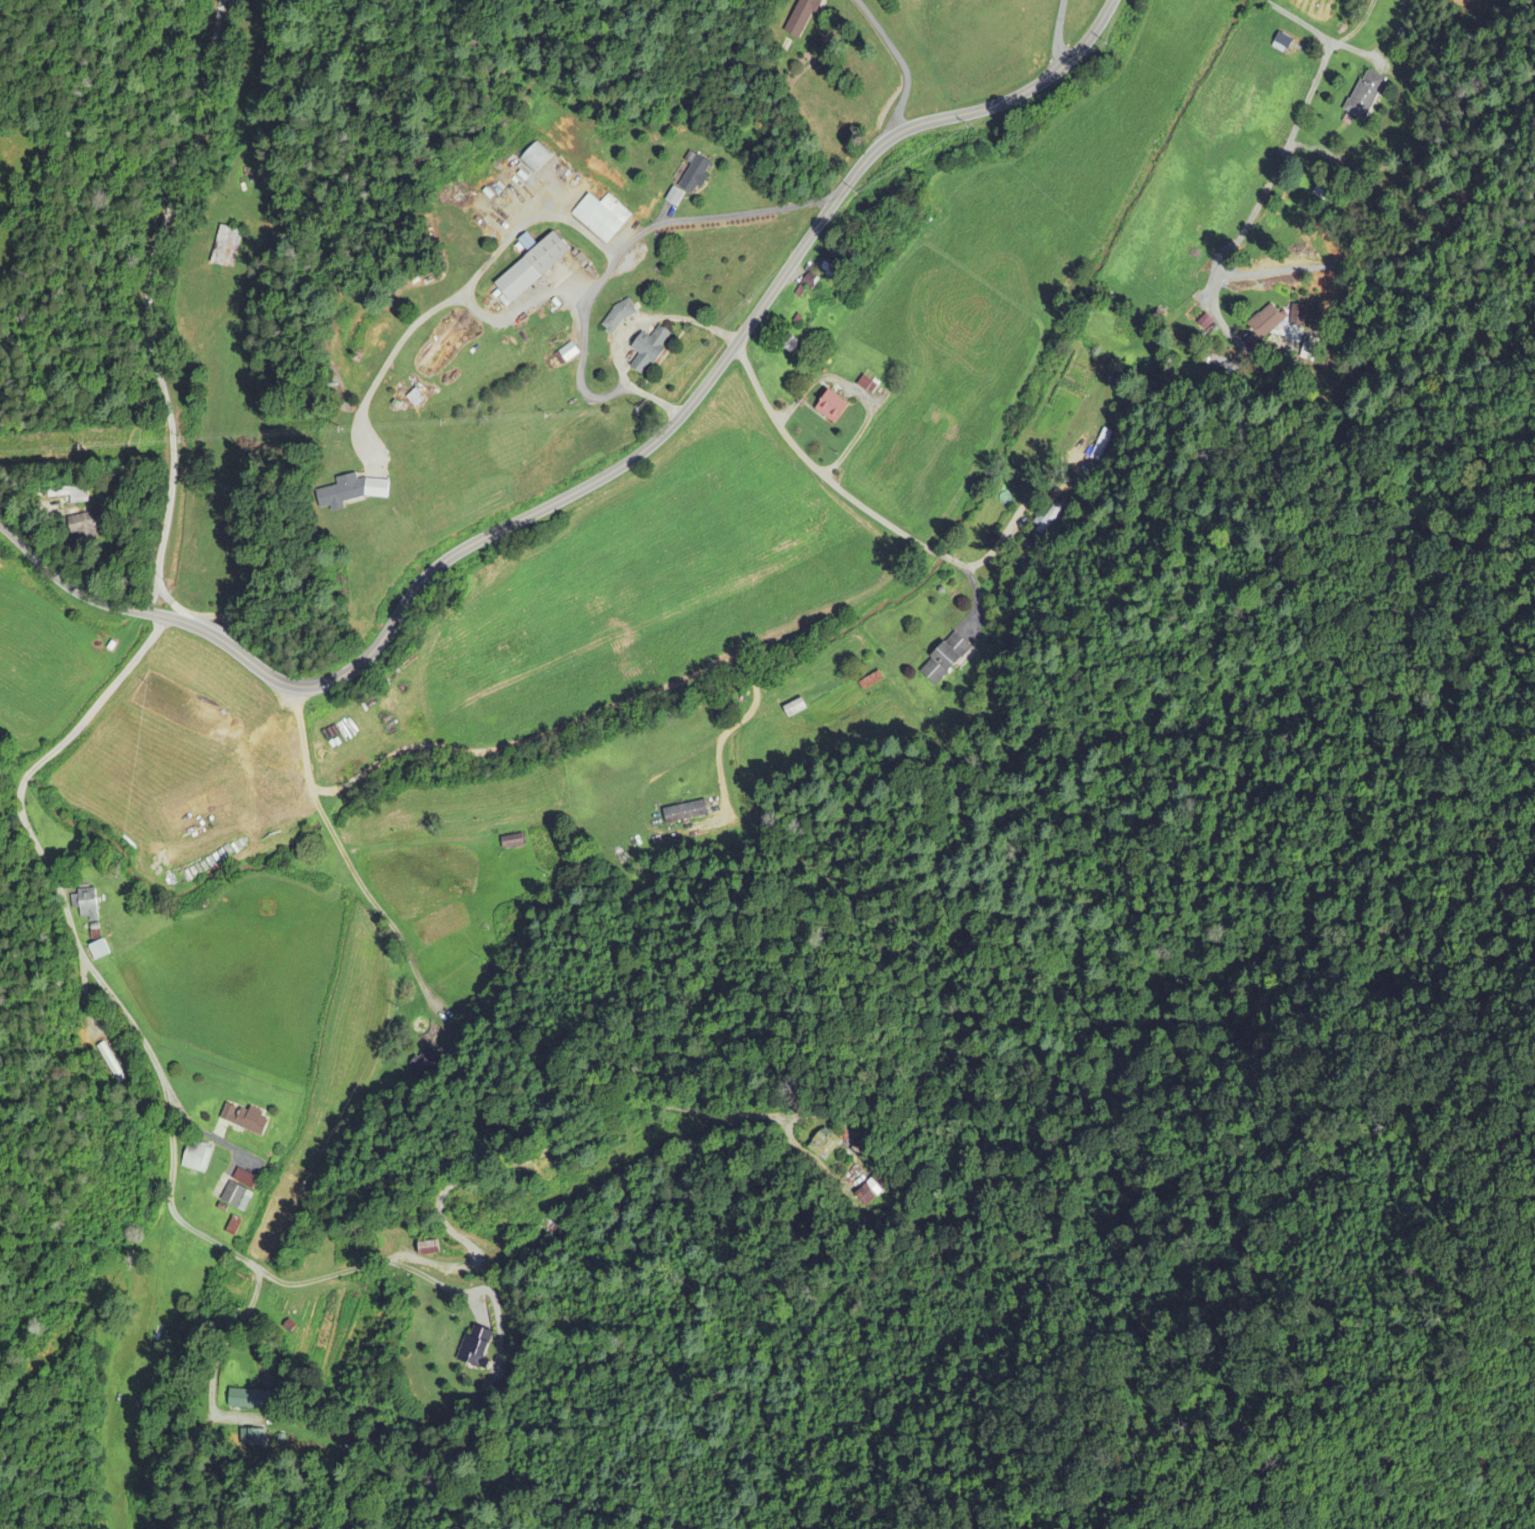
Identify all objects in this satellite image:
building: (800, 19)
road: (1357, 29)
road: (1057, 33)
road: (1324, 63)
road: (904, 64)
building: (1365, 95)
building: (692, 173)
building: (1325, 189)
building: (673, 196)
building: (600, 216)
road: (530, 220)
road: (632, 240)
road: (1235, 244)
building: (227, 247)
building: (829, 264)
building: (529, 268)
building: (806, 285)
road: (152, 304)
road: (520, 309)
building: (617, 316)
building: (1264, 321)
road: (622, 329)
building: (789, 344)
building: (648, 349)
building: (1309, 349)
building: (568, 352)
road: (388, 357)
building: (867, 385)
building: (831, 407)
building: (1100, 446)
road: (818, 474)
road: (601, 478)
building: (349, 492)
building: (69, 493)
road: (1021, 510)
building: (82, 524)
building: (1044, 525)
building: (944, 658)
building: (794, 708)
road: (605, 711)
building: (511, 842)
road: (349, 855)
building: (84, 905)
building: (97, 950)
road: (115, 1004)
building: (465, 1019)
building: (428, 1061)
building: (109, 1063)
building: (244, 1120)
road: (200, 1129)
building: (822, 1145)
road: (535, 1155)
building: (194, 1161)
building: (241, 1177)
building: (871, 1191)
building: (235, 1197)
building: (555, 1224)
building: (427, 1249)
road: (436, 1282)
road: (233, 1330)
building: (474, 1348)
building: (250, 1399)

